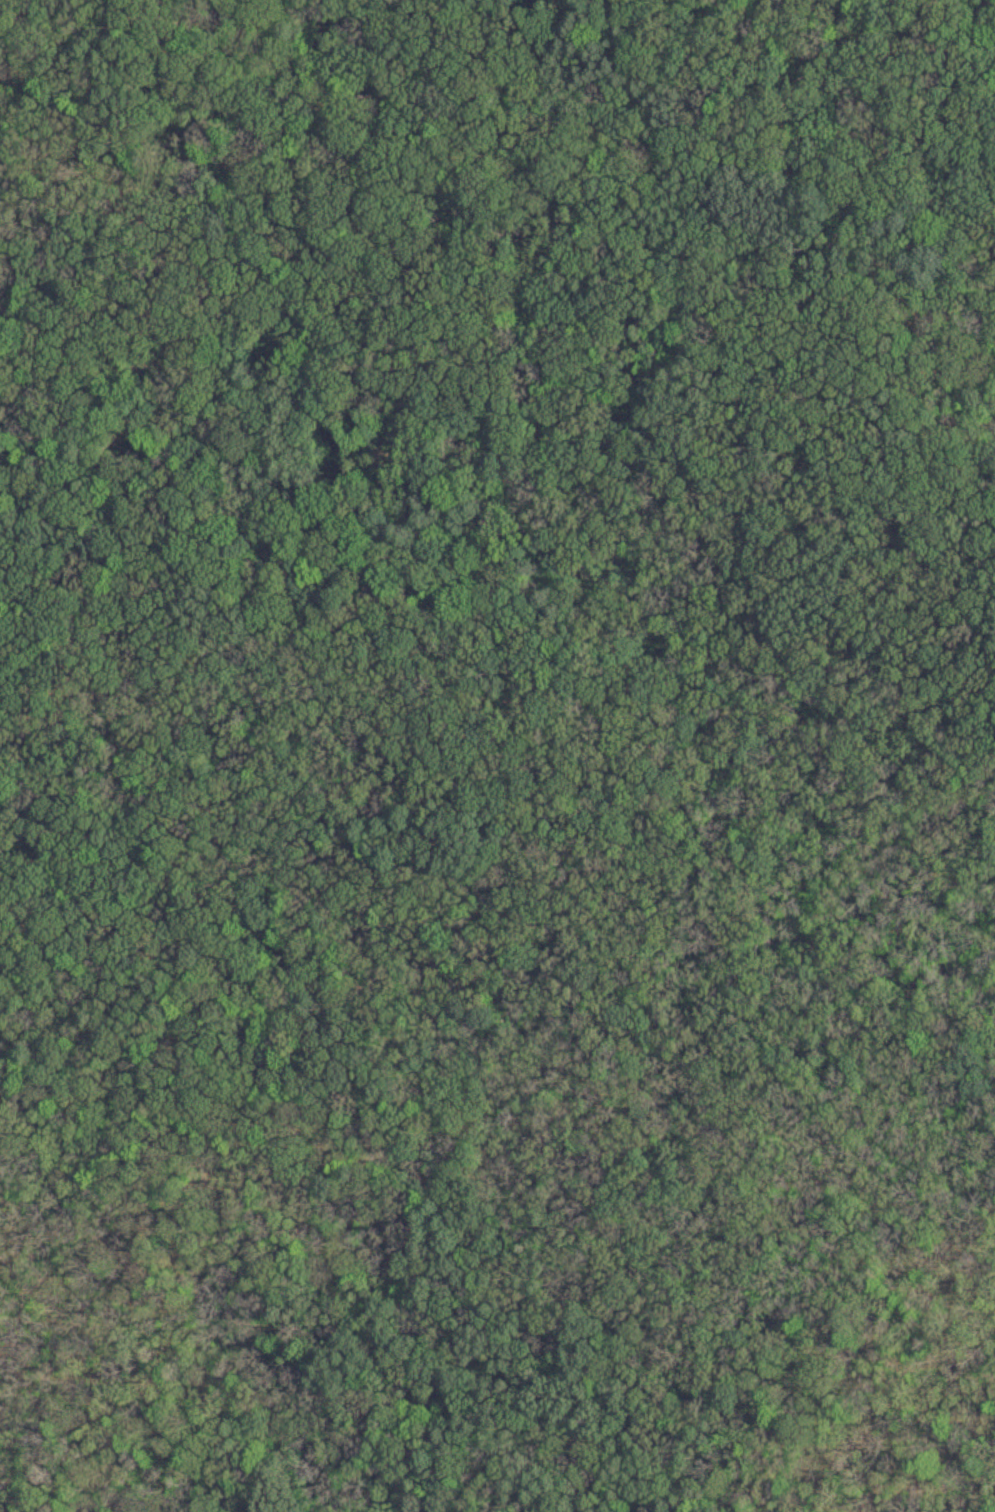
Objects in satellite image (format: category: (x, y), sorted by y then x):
road: (1, 60)
road: (78, 684)
road: (16, 1339)

